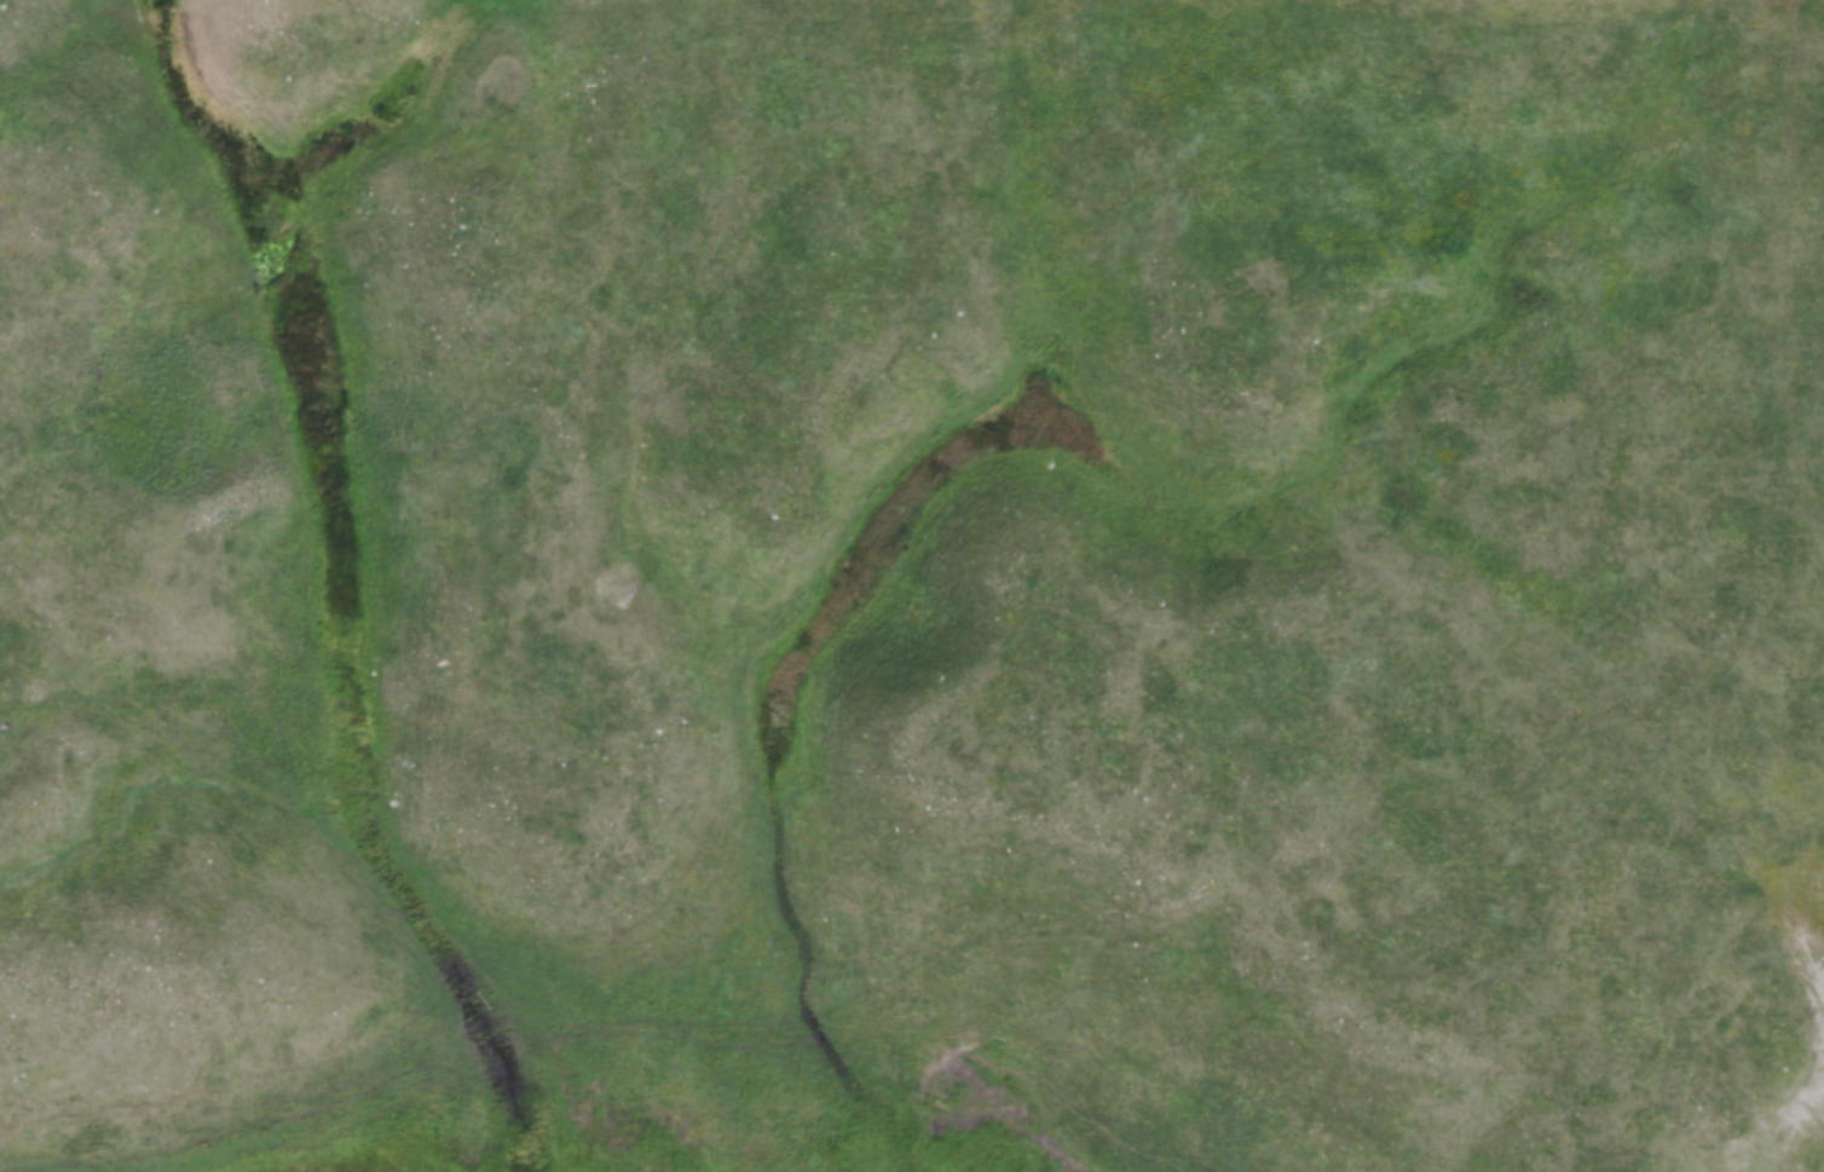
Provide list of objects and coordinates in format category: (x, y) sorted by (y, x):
road: (1812, 963)

